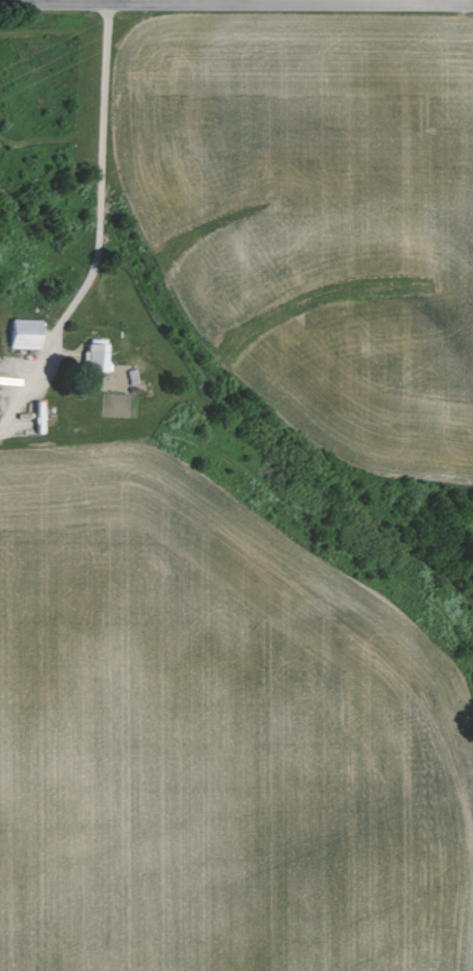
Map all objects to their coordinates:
road: (38, 1)
road: (103, 1)
road: (236, 4)
road: (94, 221)
building: (20, 333)
building: (92, 353)

